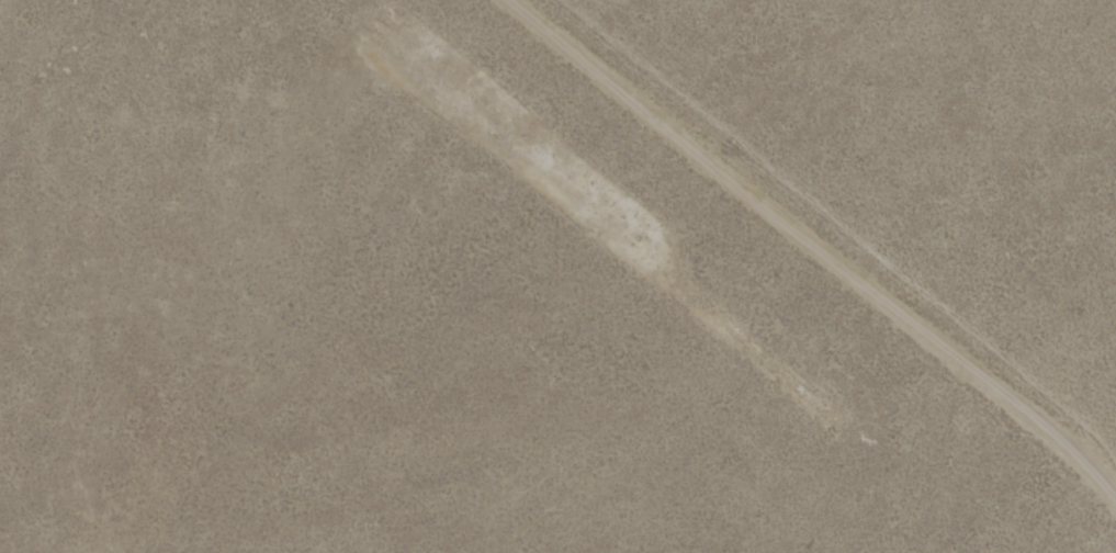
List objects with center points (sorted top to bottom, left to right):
road: (823, 245)

